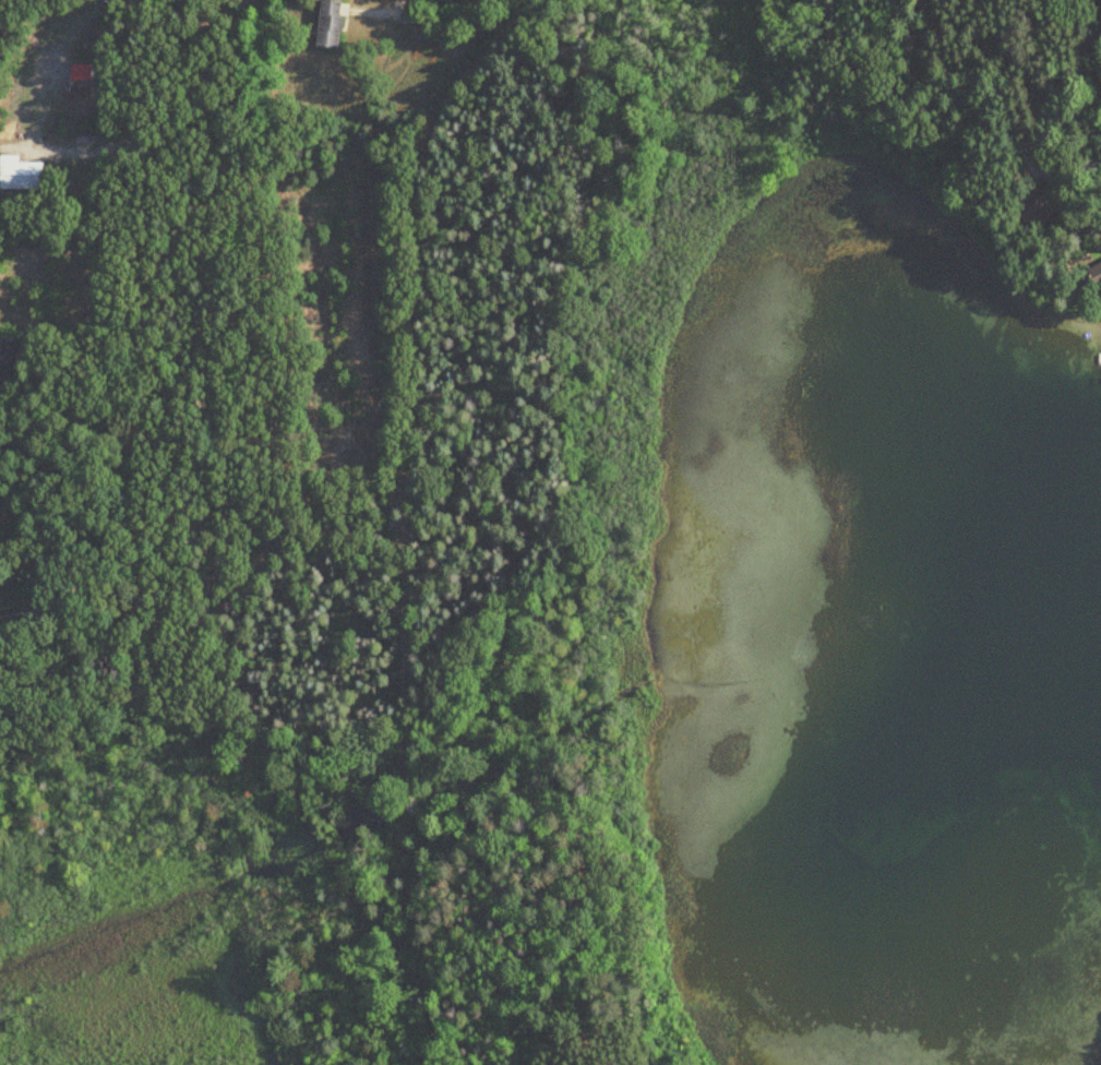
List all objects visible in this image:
road: (384, 11)
building: (333, 24)
road: (1077, 61)
building: (74, 111)
building: (23, 175)
building: (1041, 202)
road: (128, 339)
building: (7, 366)
road: (63, 454)

